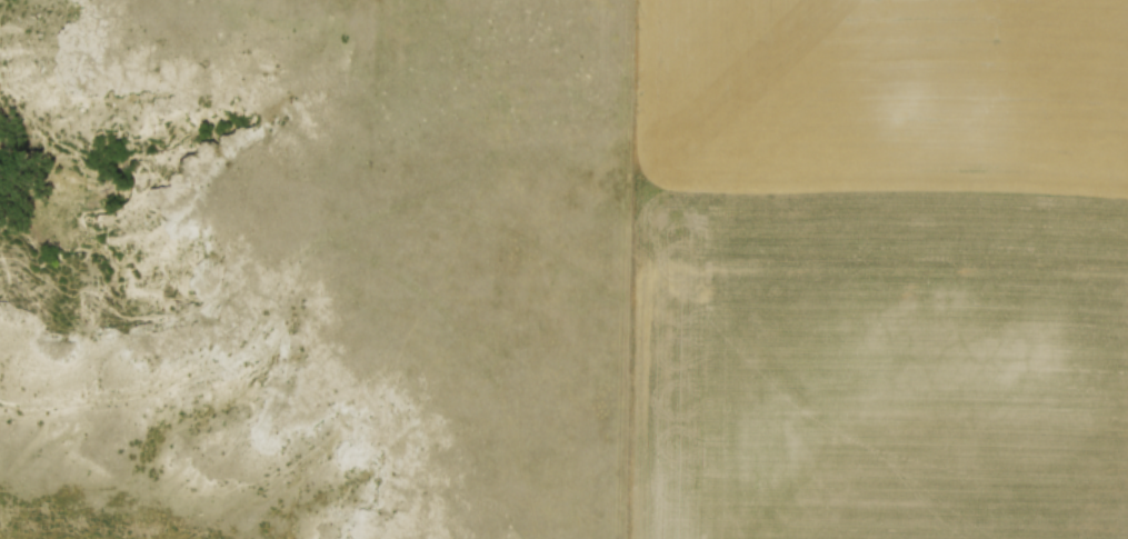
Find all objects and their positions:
crop: (884, 269)

